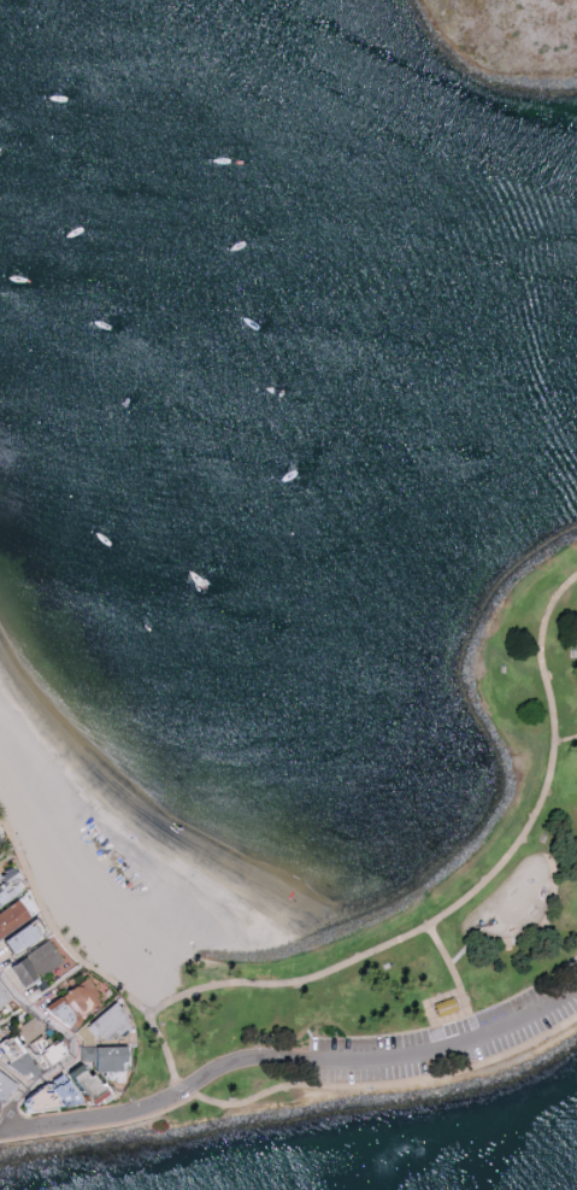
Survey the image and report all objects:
park: (511, 37)
road: (566, 739)
road: (10, 852)
building: (4, 879)
road: (473, 892)
building: (8, 915)
park: (411, 931)
building: (12, 937)
road: (80, 956)
road: (463, 956)
building: (31, 963)
road: (453, 969)
road: (45, 996)
building: (2, 997)
building: (67, 1002)
building: (447, 1009)
building: (96, 1025)
building: (27, 1028)
parking lot: (447, 1040)
road: (77, 1051)
building: (45, 1054)
building: (99, 1057)
road: (384, 1059)
building: (110, 1075)
road: (14, 1077)
road: (384, 1085)
building: (6, 1088)
road: (100, 1118)
road: (6, 1130)

